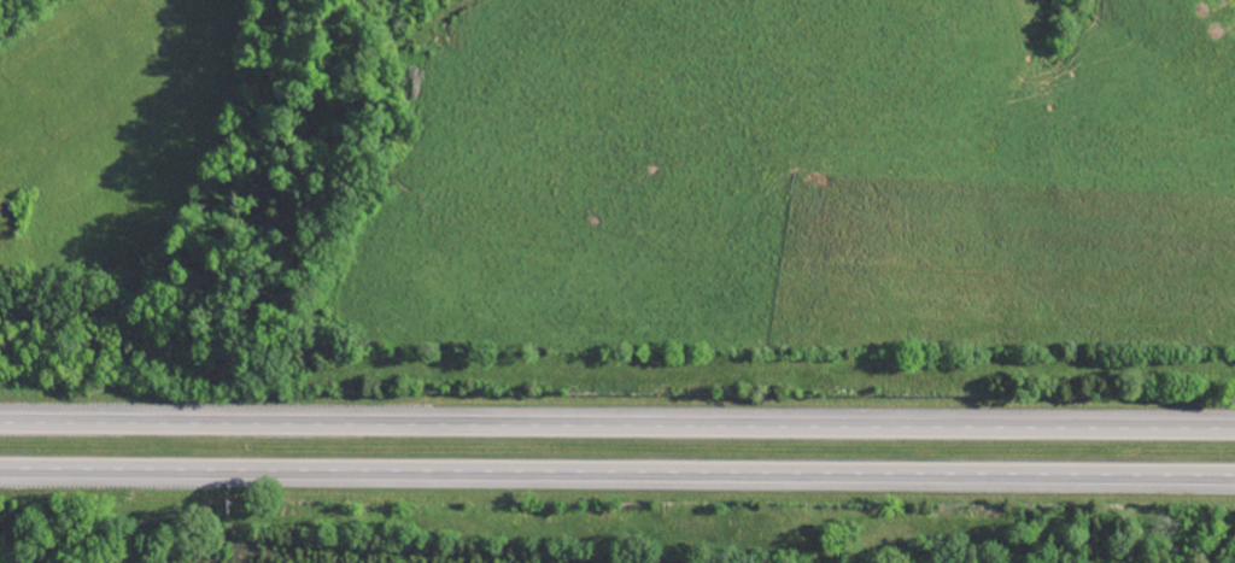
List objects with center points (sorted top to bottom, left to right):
road: (617, 422)
road: (617, 476)

